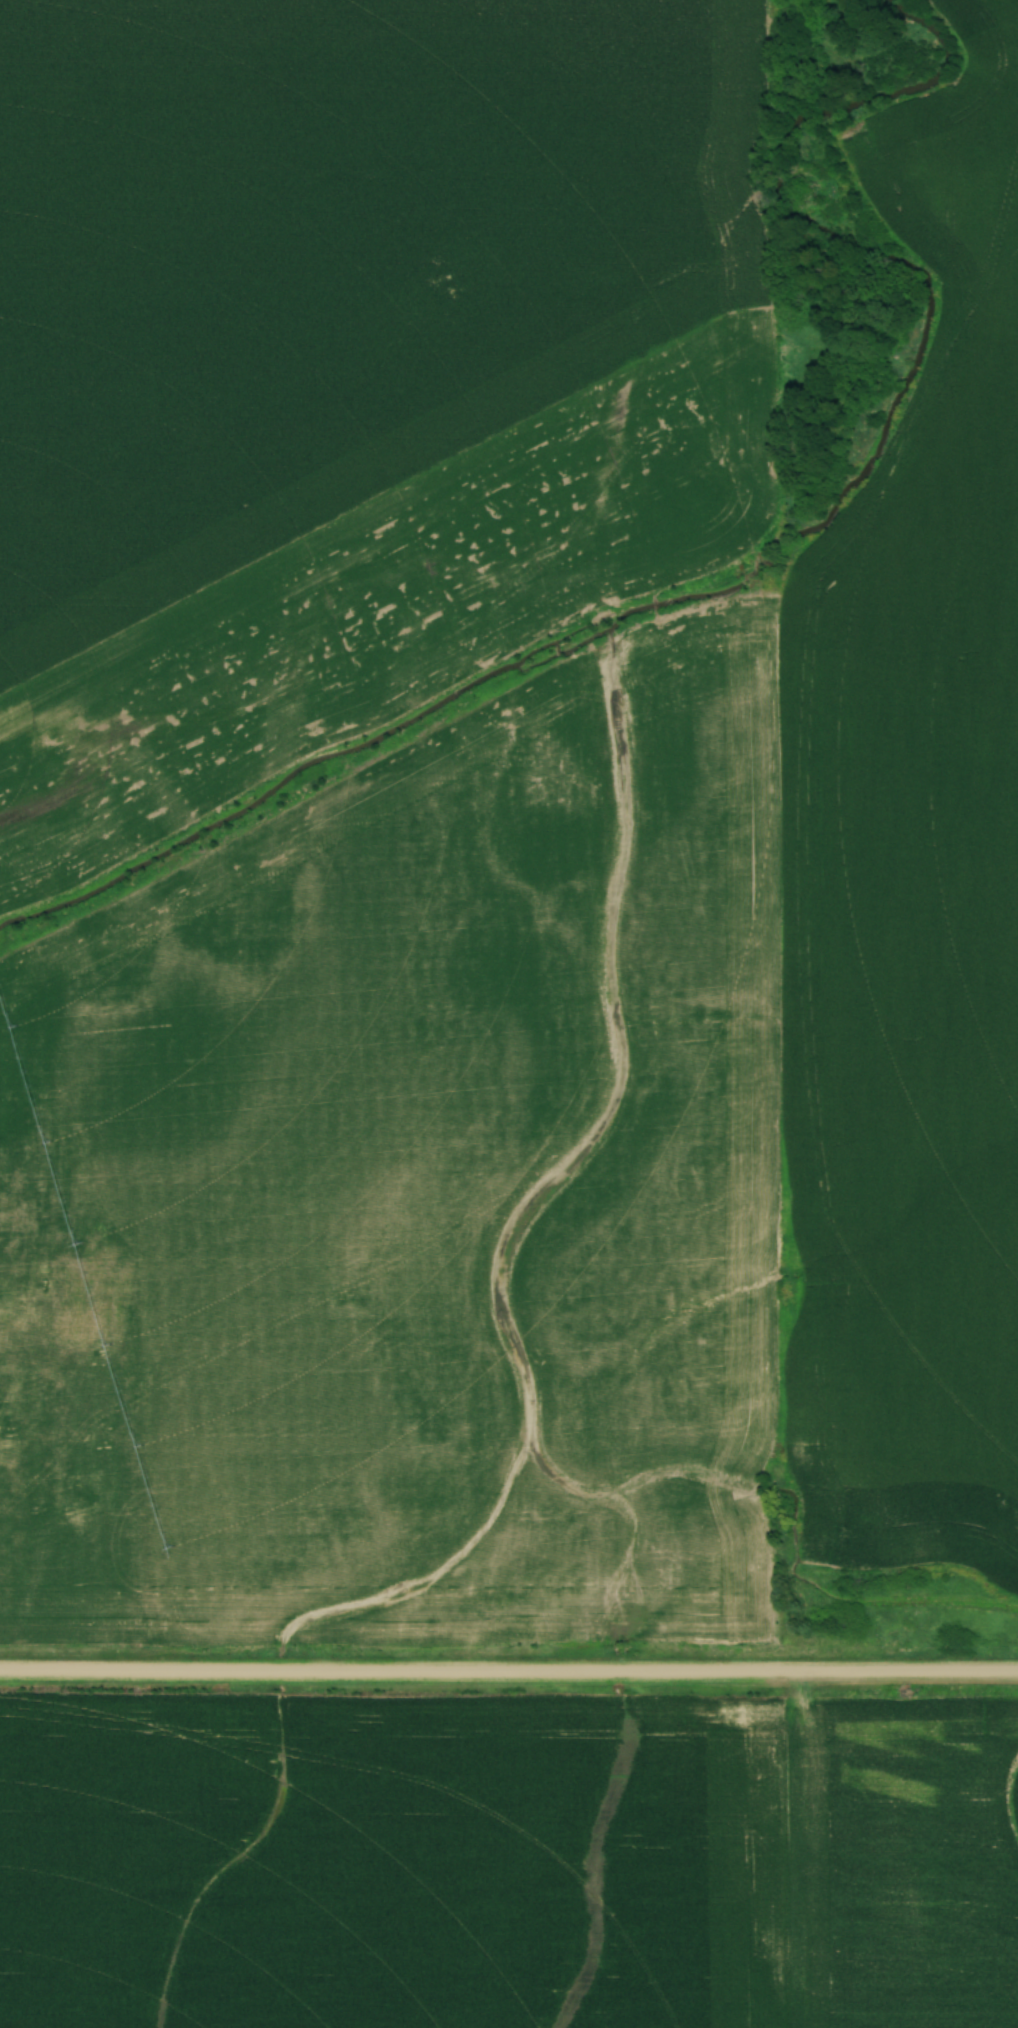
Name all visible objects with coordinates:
road: (508, 1672)

